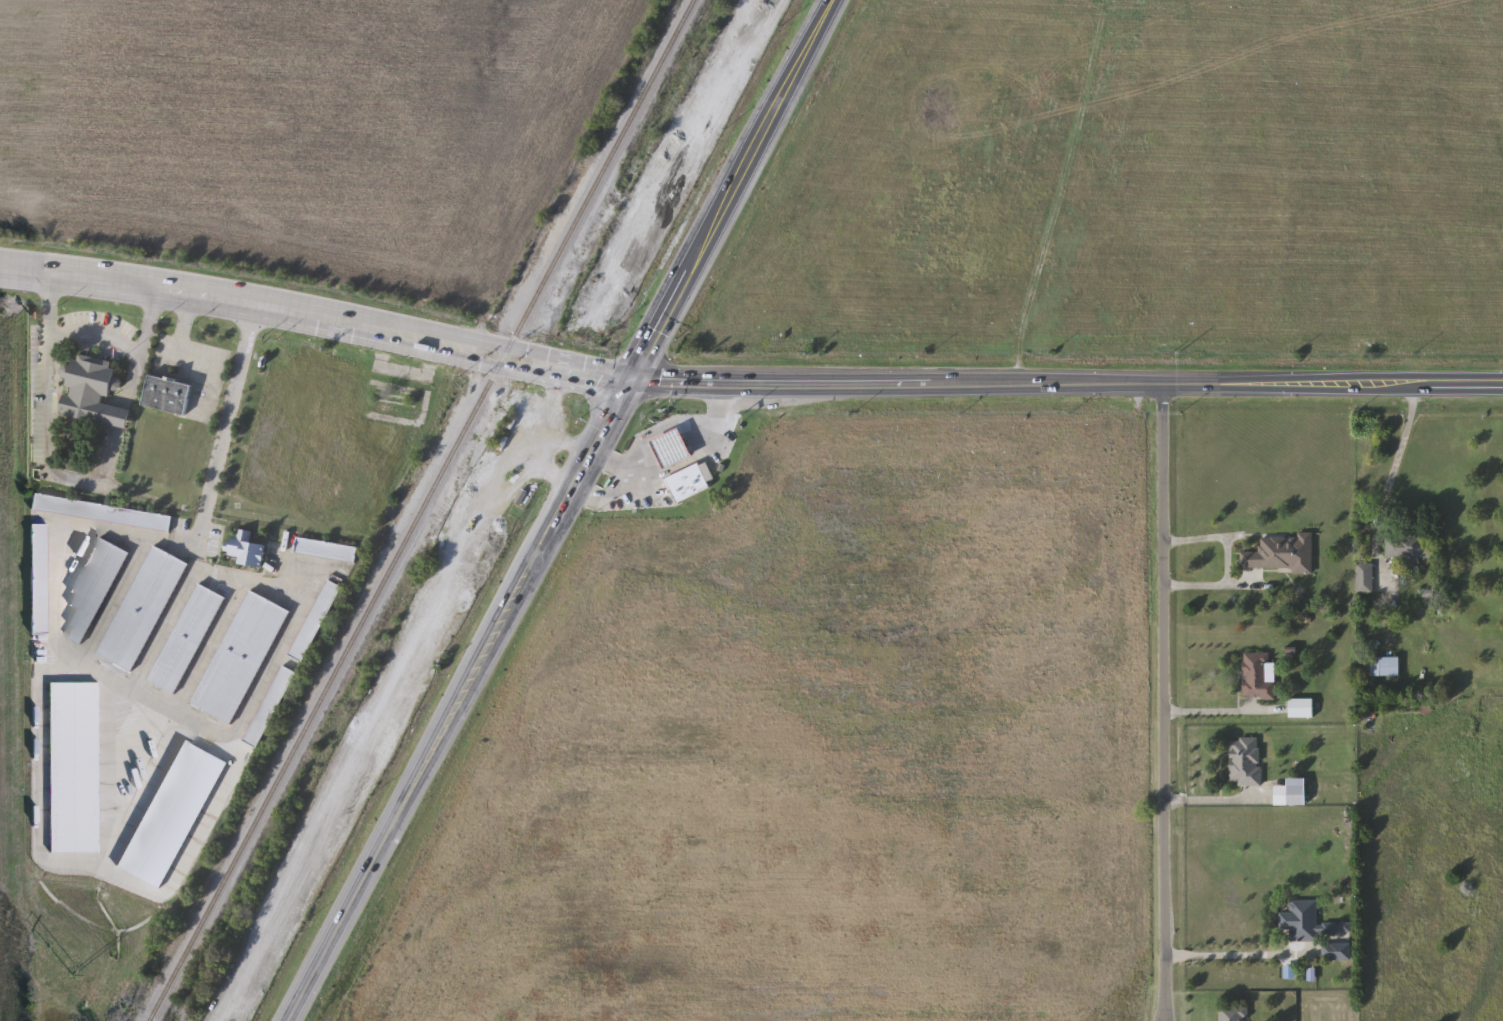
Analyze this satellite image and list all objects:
road: (318, 316)
road: (183, 323)
road: (96, 331)
traffic signals: (634, 383)
road: (1068, 384)
building: (94, 392)
building: (167, 395)
road: (229, 409)
road: (660, 426)
road: (700, 438)
building: (673, 448)
road: (672, 449)
road: (641, 460)
road: (681, 465)
road: (74, 467)
road: (618, 475)
road: (1391, 475)
building: (687, 483)
gas station: (687, 483)
road: (602, 497)
railway: (424, 510)
railway: (497, 510)
road: (564, 510)
building: (102, 512)
road: (1215, 538)
road: (196, 542)
building: (1410, 547)
building: (247, 549)
building: (326, 550)
road: (196, 551)
building: (1281, 554)
building: (37, 578)
building: (1365, 578)
building: (94, 586)
road: (1214, 586)
building: (141, 608)
building: (315, 620)
road: (163, 629)
building: (184, 638)
road: (207, 646)
building: (238, 656)
building: (1381, 666)
building: (1257, 677)
road: (155, 701)
road: (1162, 702)
road: (1219, 704)
building: (270, 706)
building: (1246, 761)
building: (73, 765)
building: (1297, 791)
road: (1216, 799)
building: (170, 813)
building: (1302, 920)
road: (1230, 954)
power tower: (78, 972)
building: (1234, 1013)

